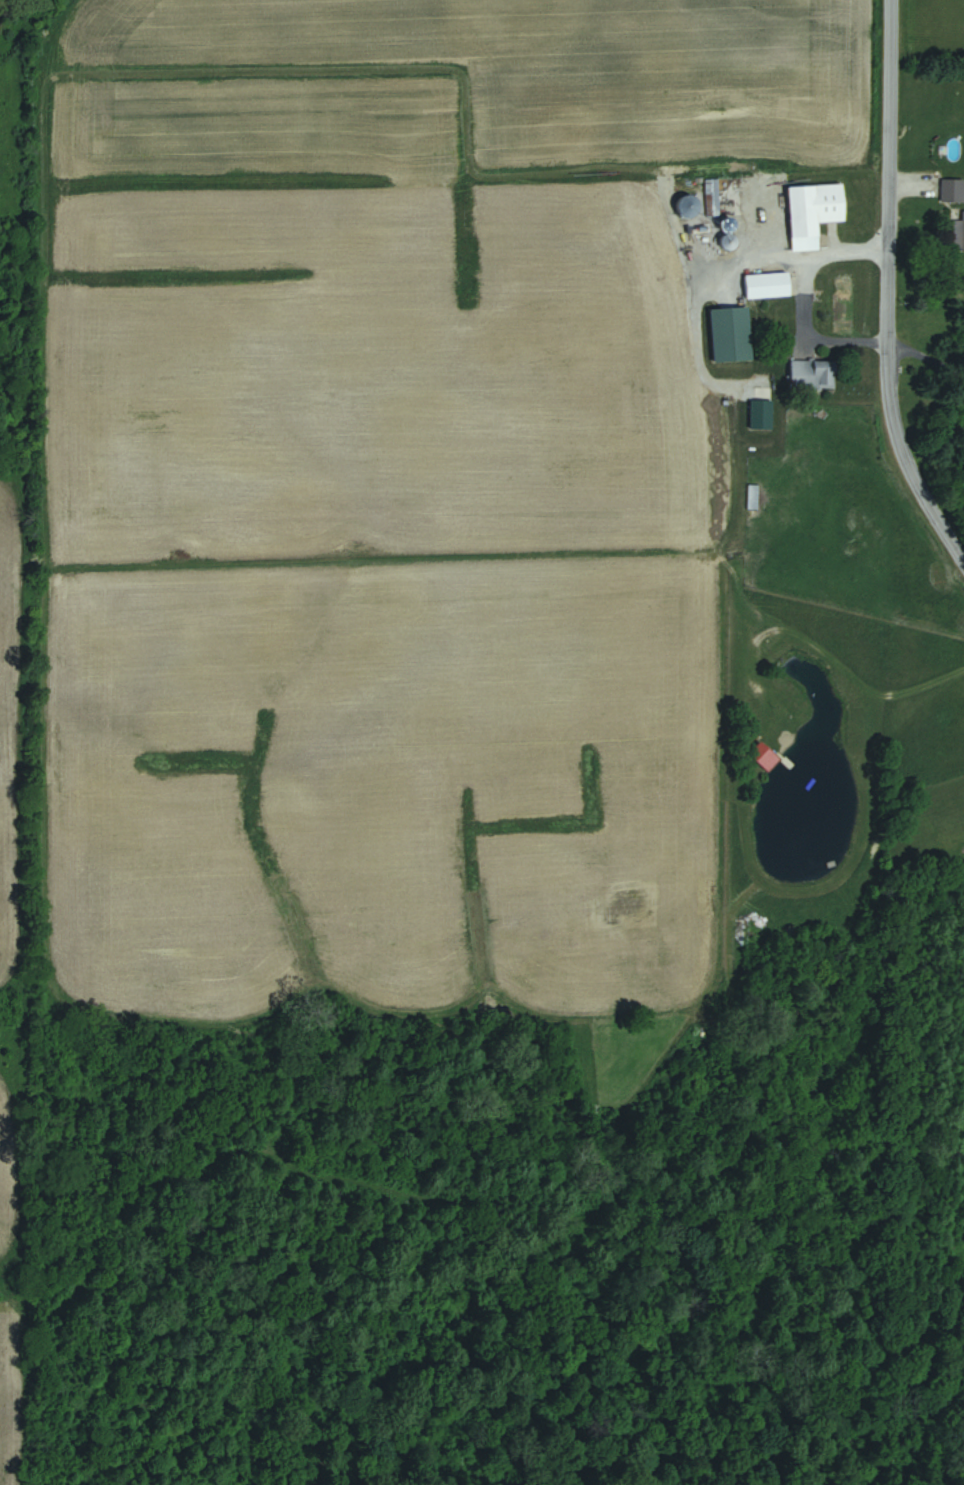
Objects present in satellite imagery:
building: (953, 190)
building: (816, 213)
building: (962, 229)
building: (770, 285)
road: (885, 288)
road: (800, 296)
building: (734, 335)
building: (816, 374)
building: (755, 496)

